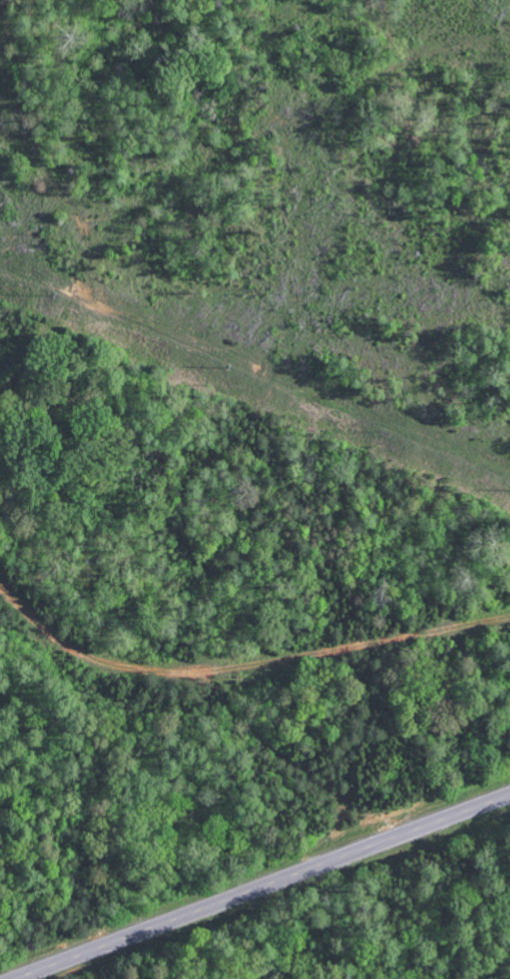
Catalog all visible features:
road: (262, 886)

